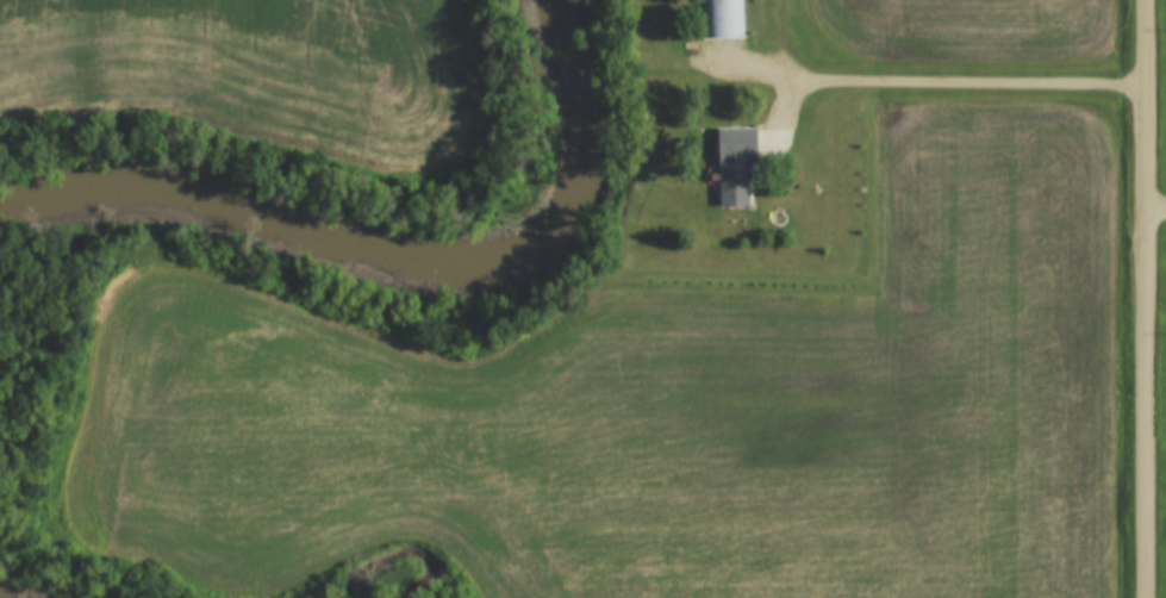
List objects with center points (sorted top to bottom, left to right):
road: (925, 86)
building: (734, 167)
river: (407, 266)
road: (1145, 298)

